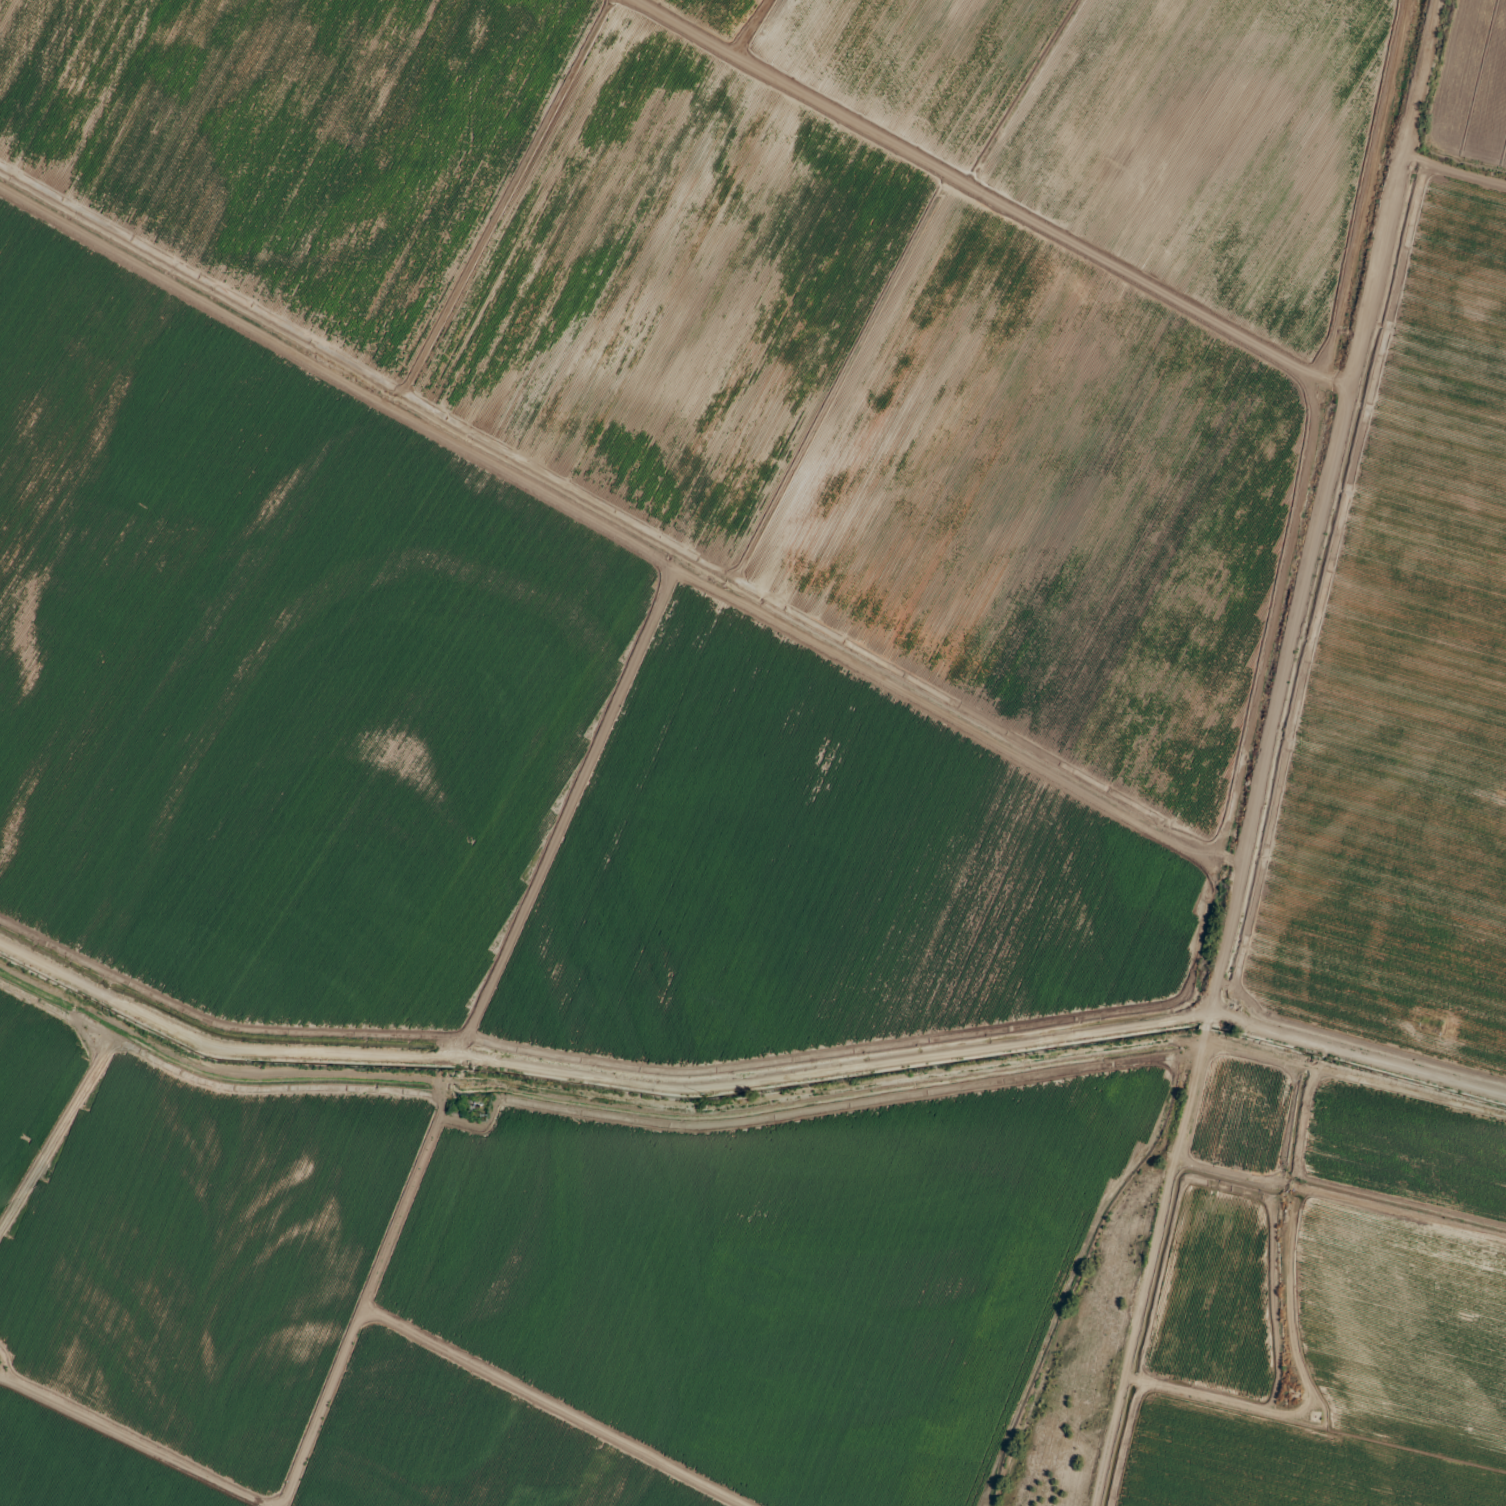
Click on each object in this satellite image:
crop: (1327, 1306)

